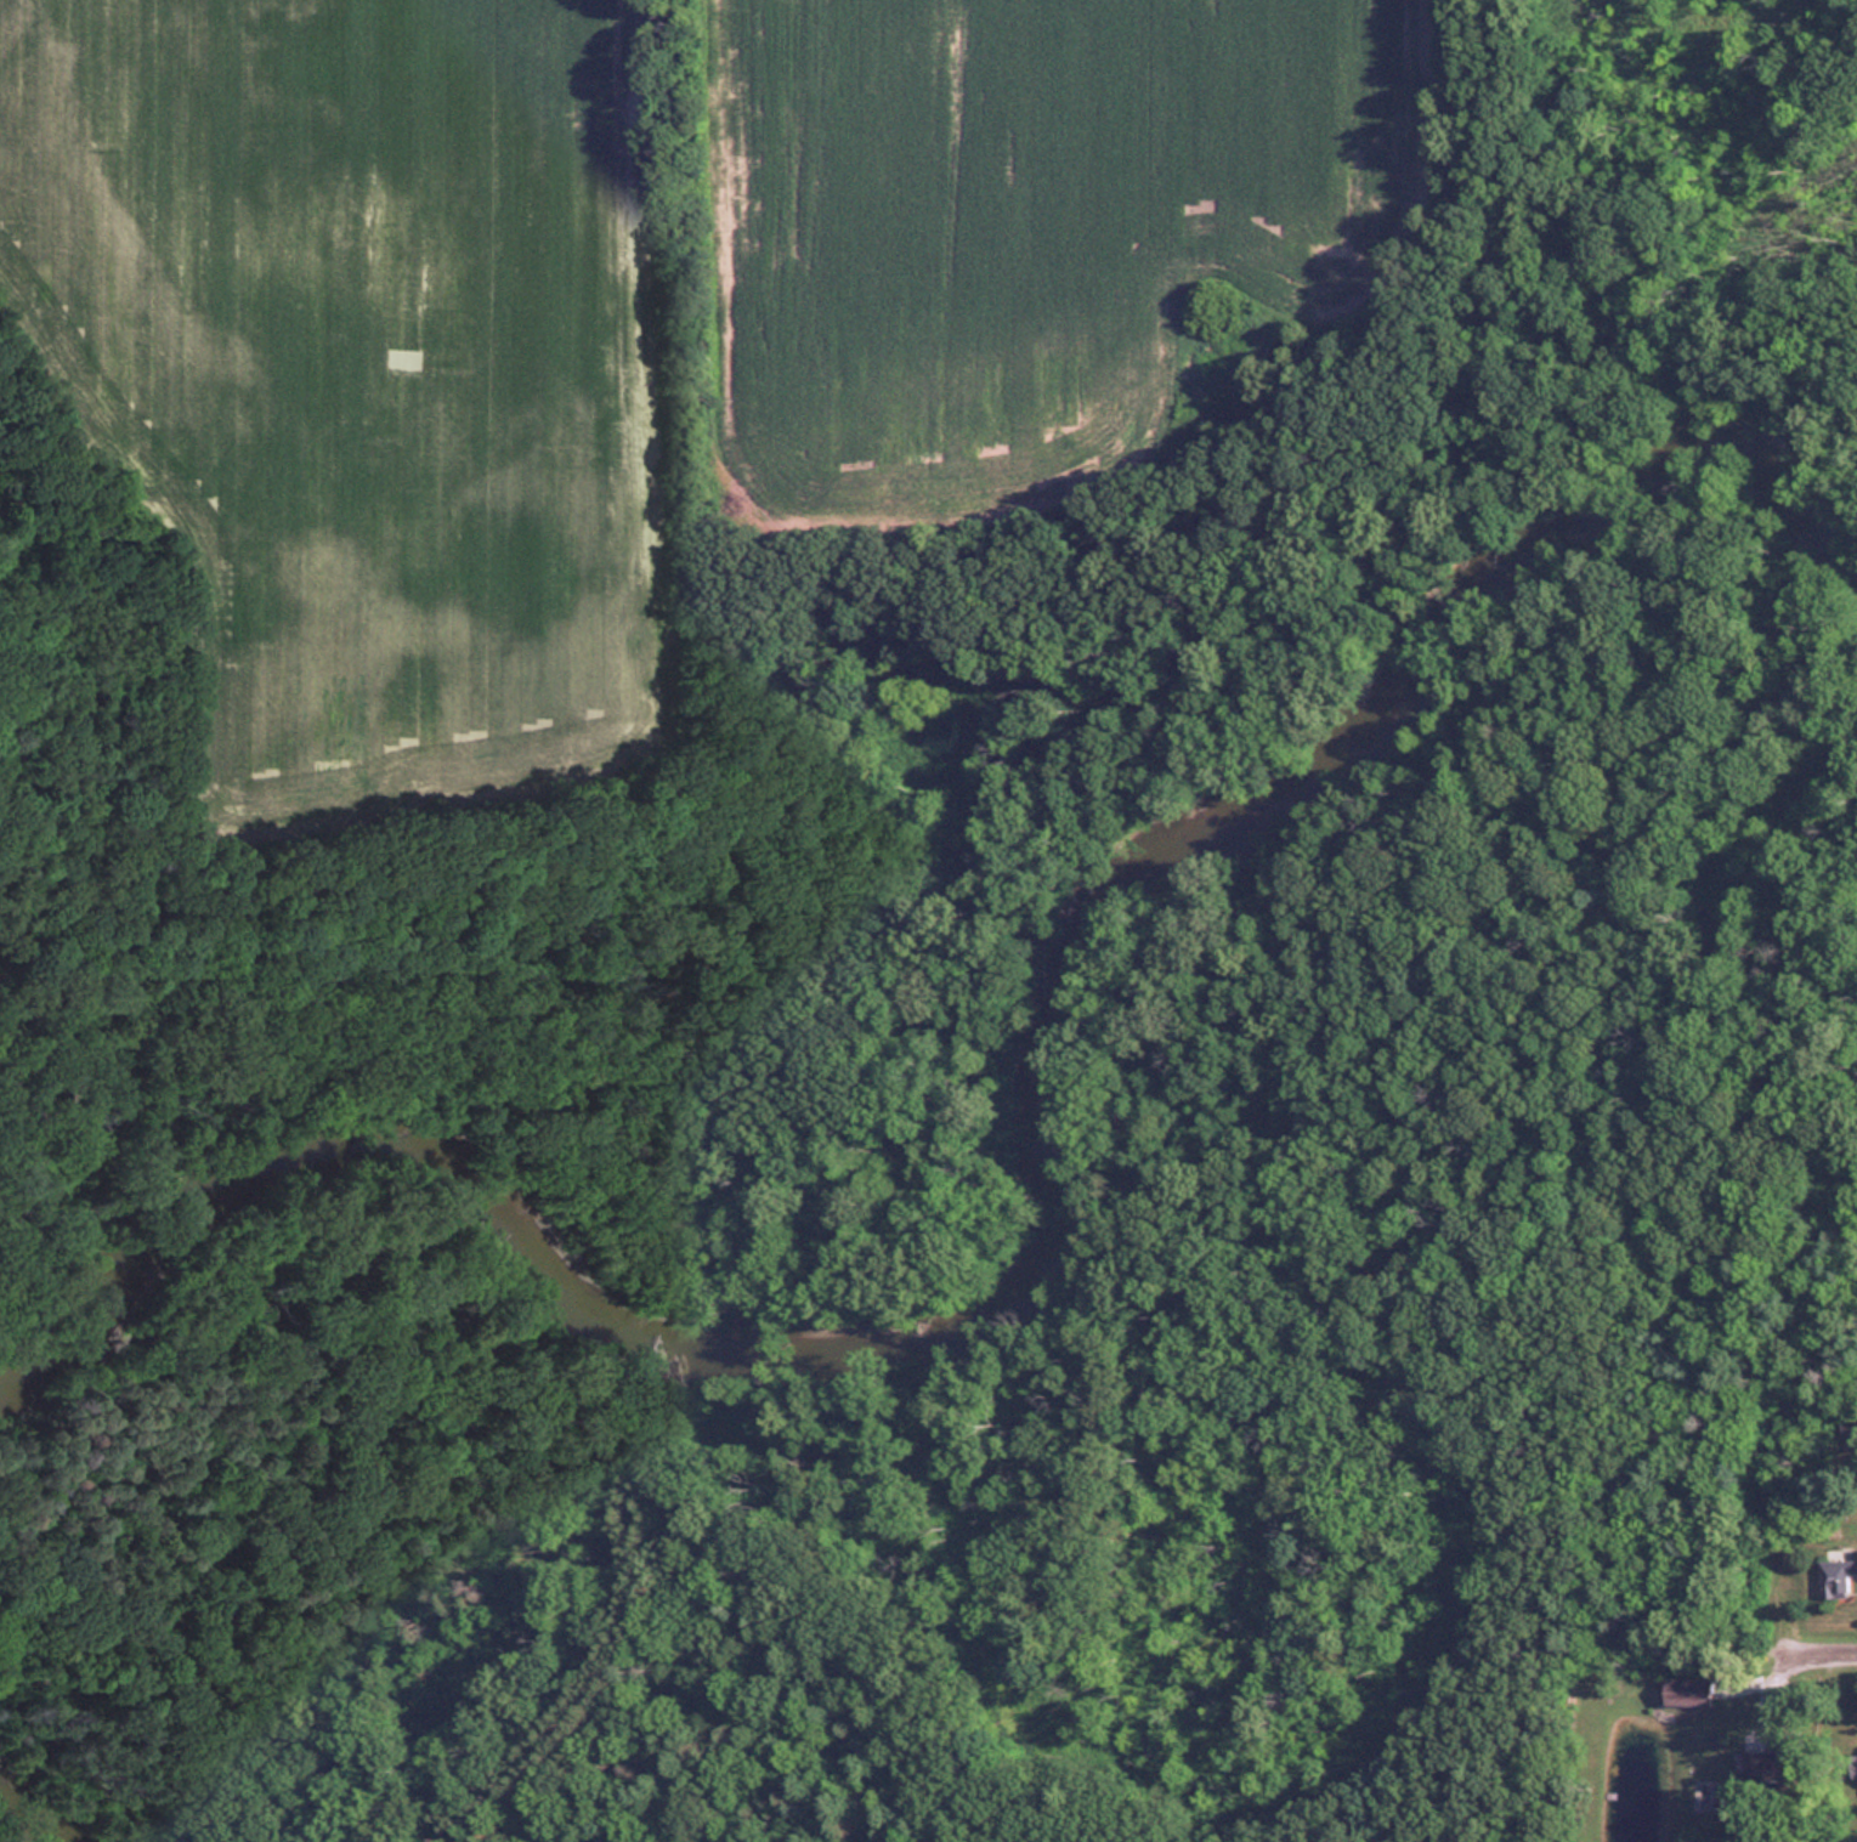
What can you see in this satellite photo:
river: (1052, 1195)
park: (446, 1320)
building: (1852, 1439)
building: (1839, 1580)
road: (1816, 1650)
building: (1691, 1694)
building: (1776, 1767)
building: (1855, 1767)
river: (29, 1818)

